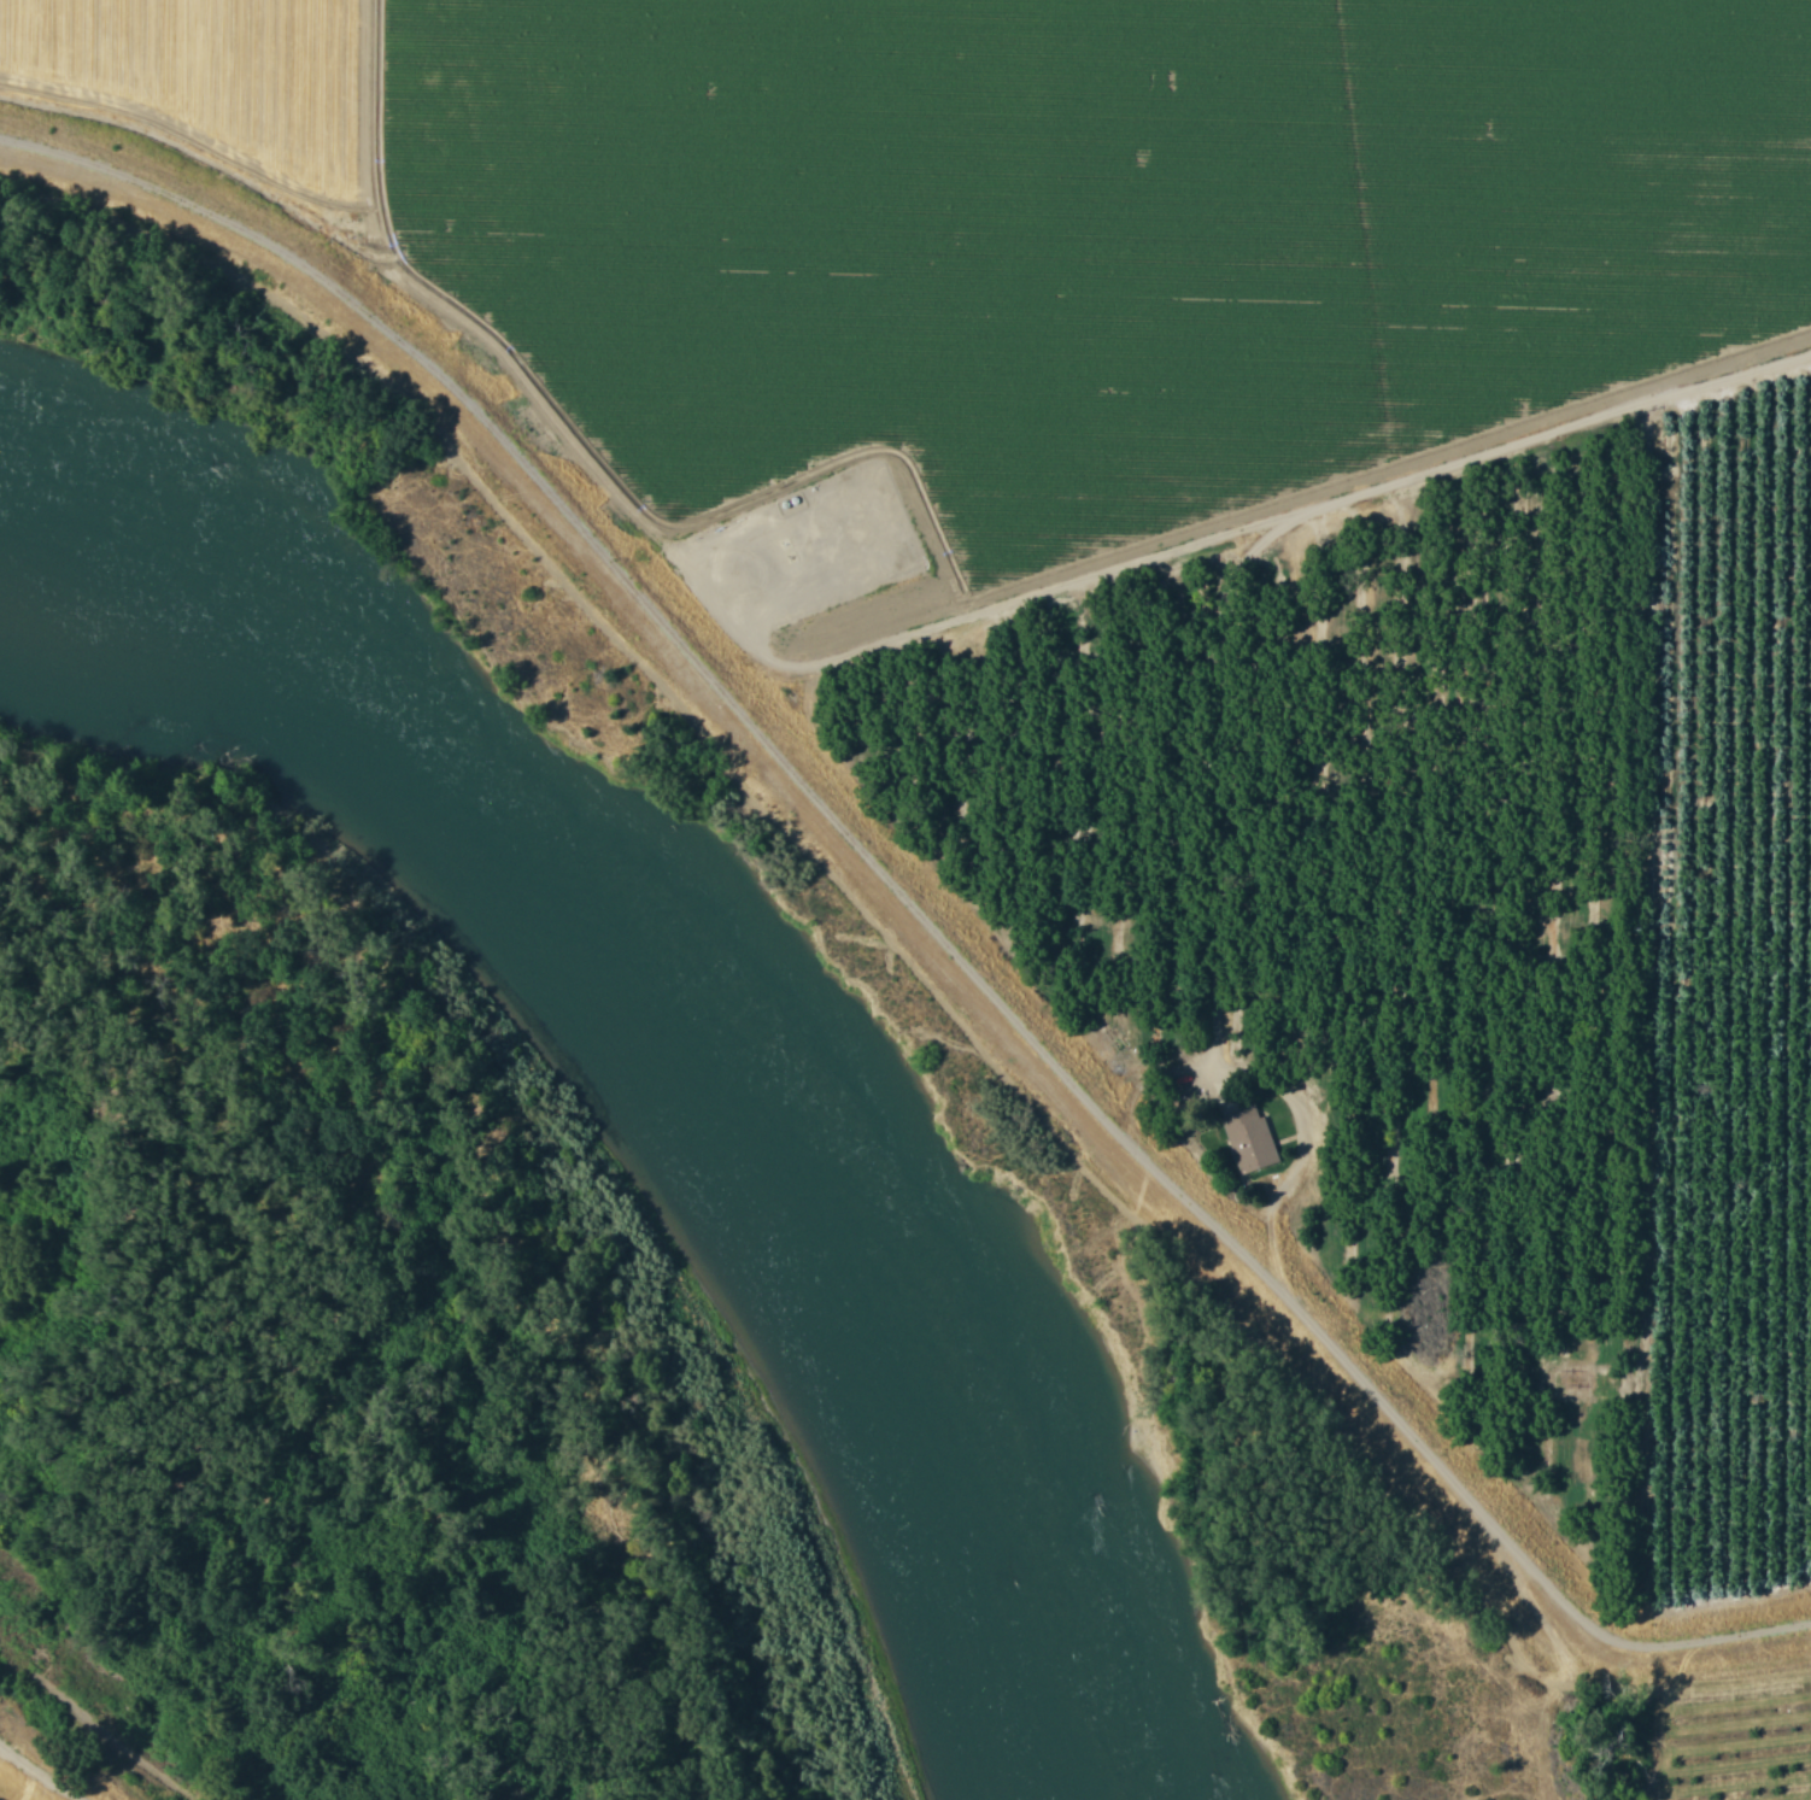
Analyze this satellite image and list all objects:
road: (916, 899)
river: (628, 1056)
building: (1254, 1139)
road: (45, 1769)

